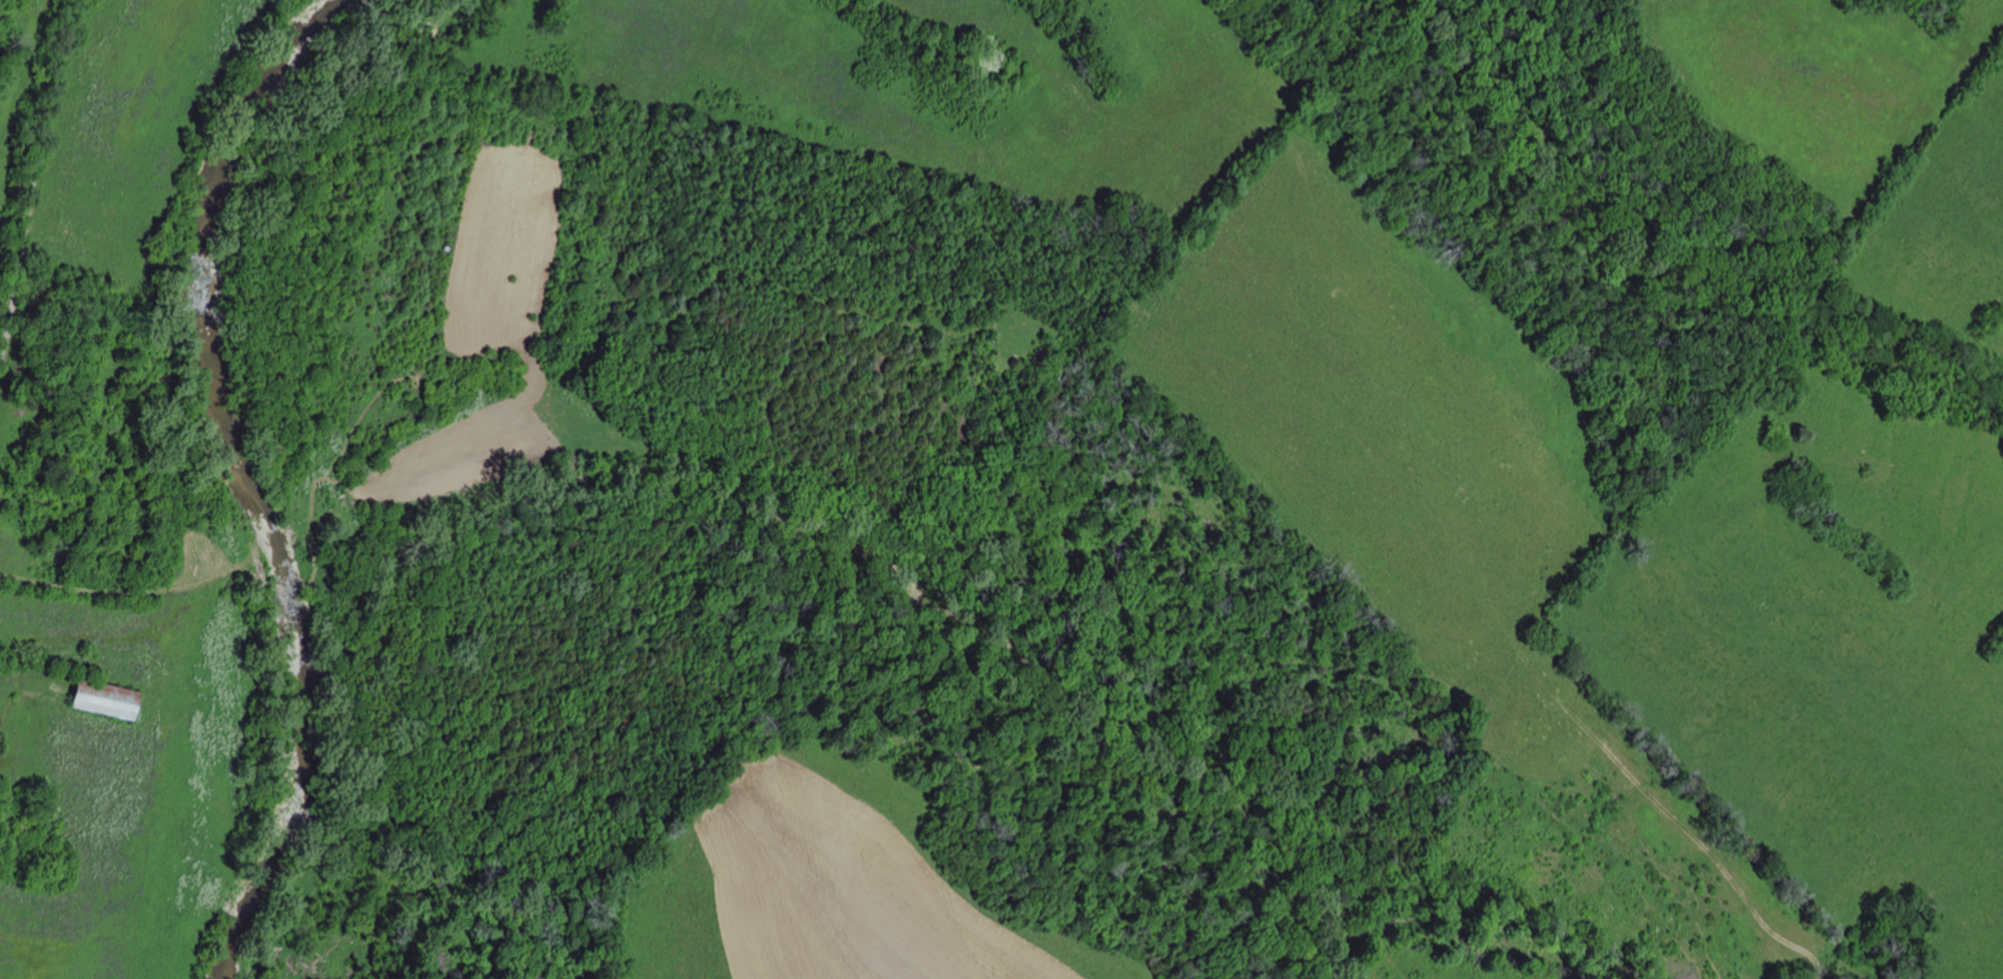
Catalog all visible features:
road: (32, 172)
building: (465, 486)
road: (281, 499)
building: (109, 697)
building: (25, 825)

